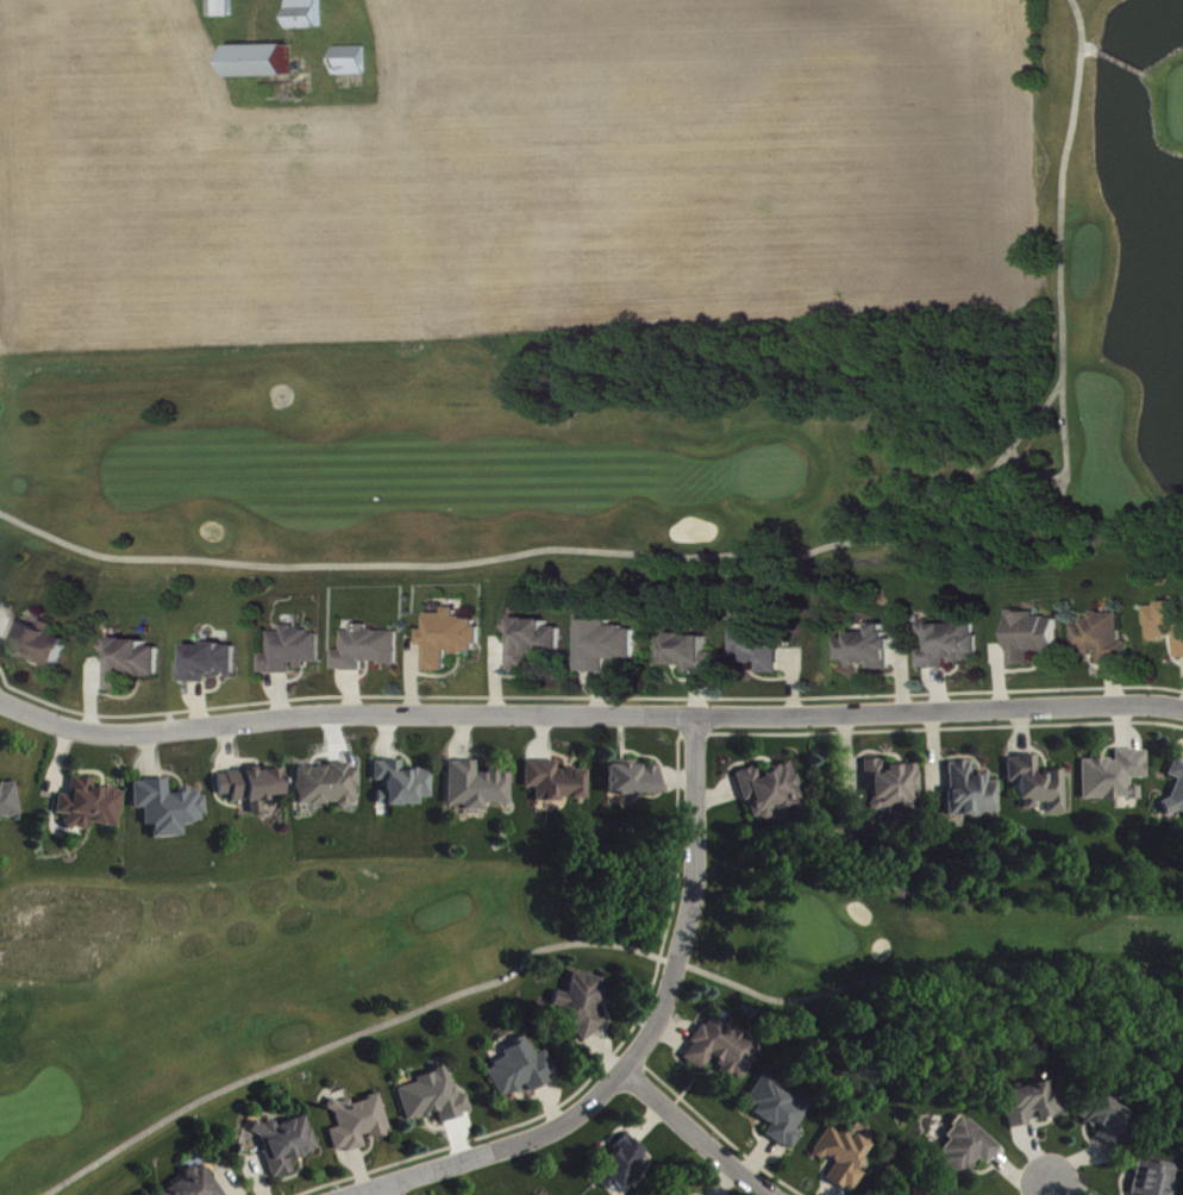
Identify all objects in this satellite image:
building: (223, 6)
building: (306, 12)
building: (349, 56)
building: (261, 57)
crop: (517, 170)
park: (682, 415)
road: (762, 555)
building: (1169, 621)
building: (1038, 637)
building: (456, 638)
building: (1108, 638)
building: (539, 643)
building: (46, 644)
building: (609, 644)
building: (954, 644)
building: (765, 645)
building: (373, 649)
building: (876, 649)
building: (298, 651)
building: (694, 652)
building: (138, 663)
building: (217, 663)
road: (587, 717)
building: (1116, 776)
building: (634, 780)
building: (557, 782)
building: (403, 784)
building: (1039, 784)
building: (328, 786)
building: (253, 787)
building: (478, 787)
building: (894, 787)
building: (771, 789)
building: (1177, 790)
building: (972, 792)
building: (10, 801)
building: (92, 805)
building: (169, 807)
road: (925, 965)
park: (238, 987)
building: (582, 1006)
road: (358, 1034)
road: (645, 1039)
building: (724, 1049)
building: (522, 1069)
building: (436, 1097)
building: (1038, 1102)
building: (780, 1113)
building: (1108, 1120)
building: (357, 1121)
road: (697, 1133)
building: (287, 1144)
building: (969, 1149)
building: (844, 1158)
building: (621, 1166)
building: (1154, 1180)
building: (198, 1183)
road: (1049, 1190)
road: (382, 1191)

